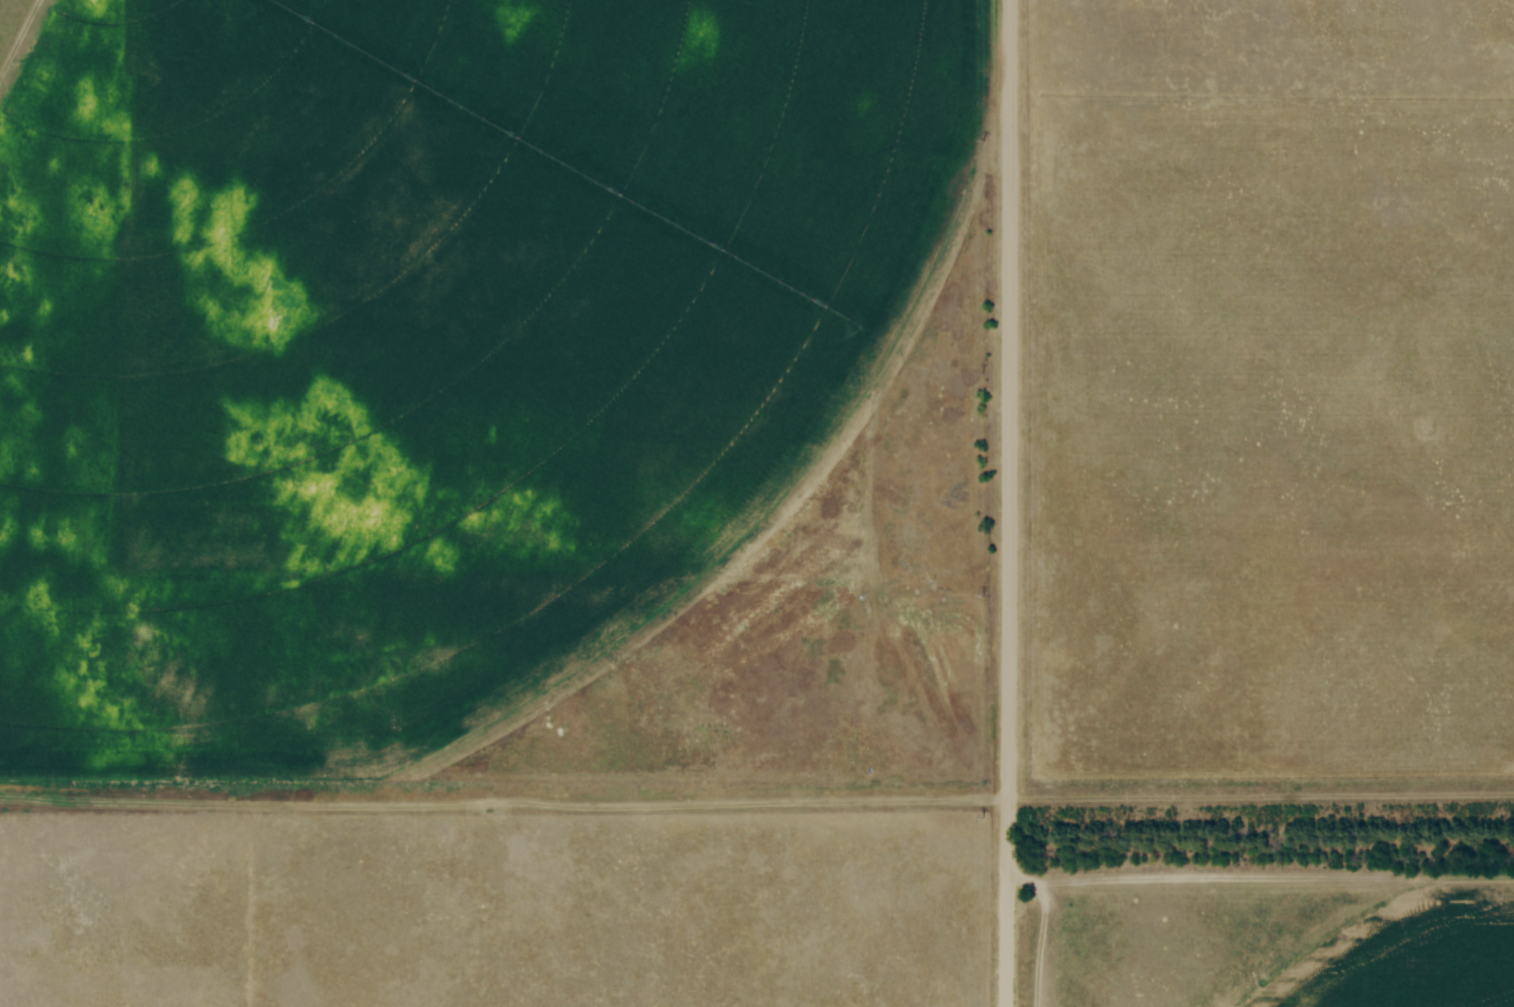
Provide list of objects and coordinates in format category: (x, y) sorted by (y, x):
road: (1010, 503)

